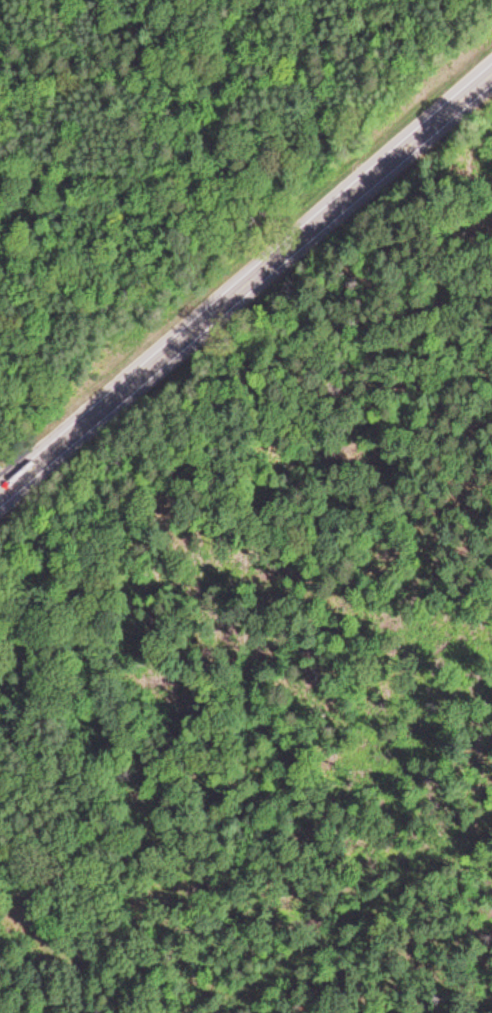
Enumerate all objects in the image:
road: (246, 284)

